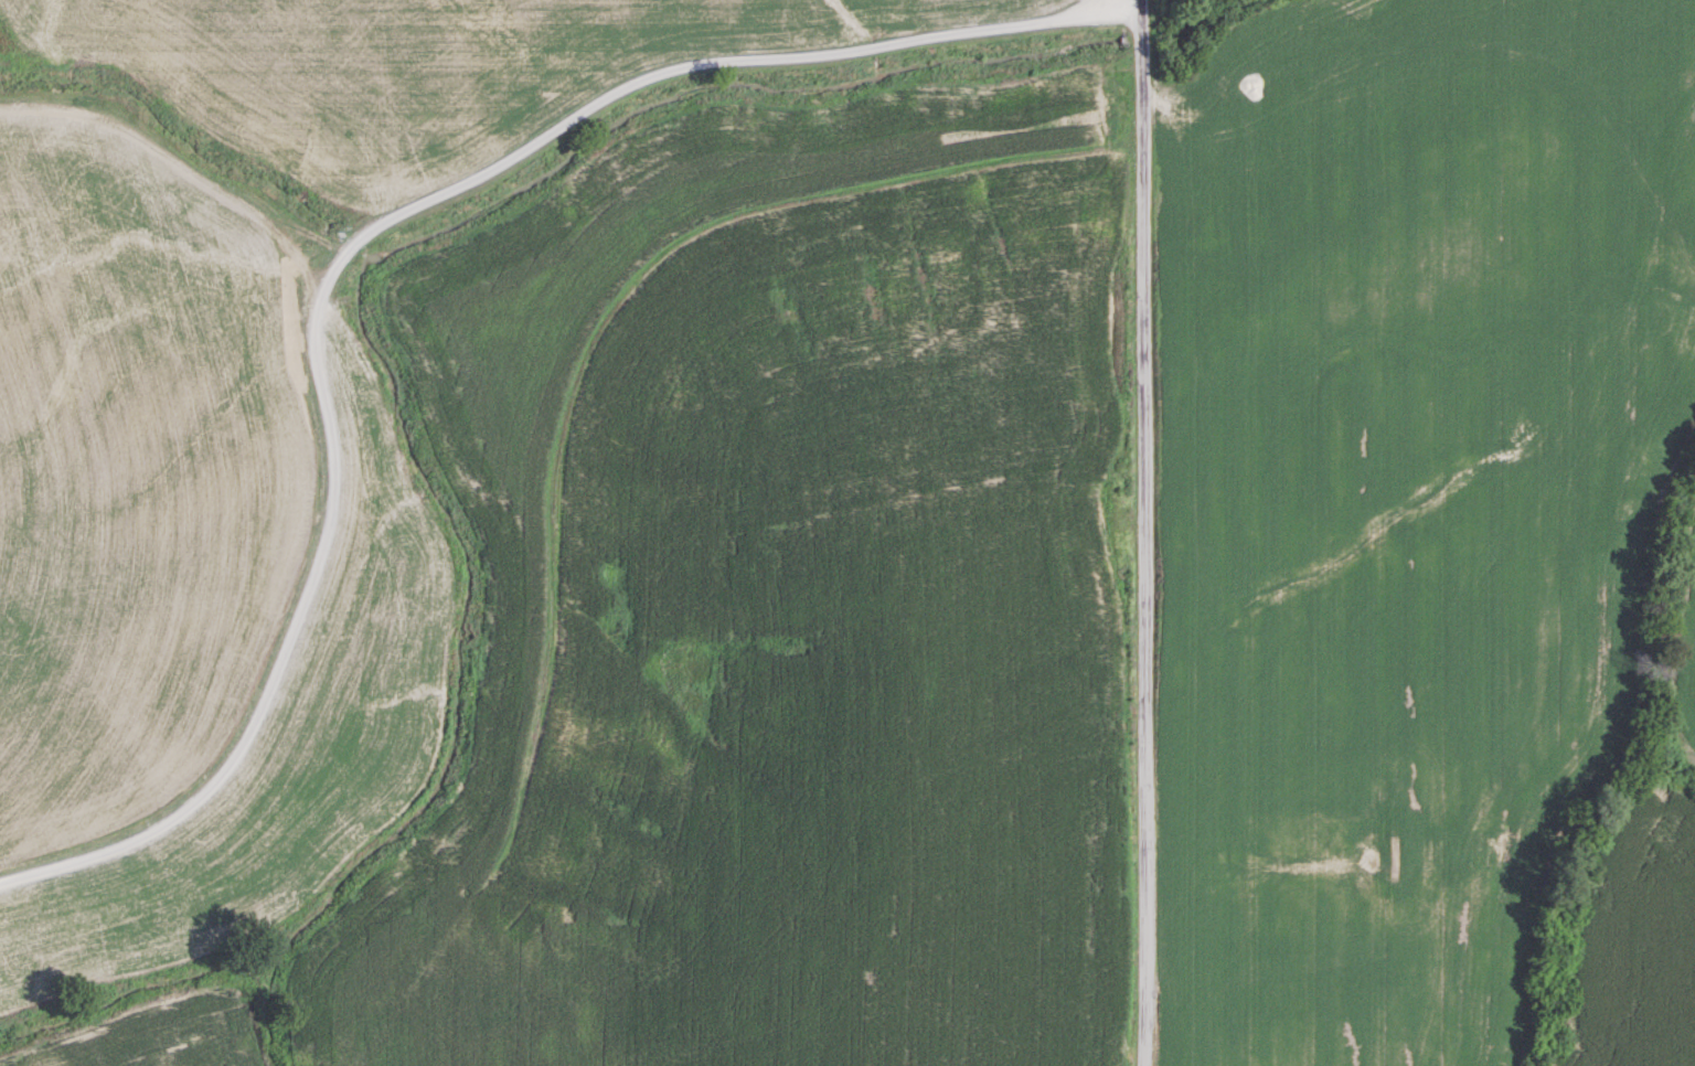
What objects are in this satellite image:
road: (1141, 3)
road: (361, 235)
building: (362, 317)
crop: (1404, 499)
road: (1141, 536)
crop: (786, 605)
crop: (1688, 631)
crop: (1640, 949)

